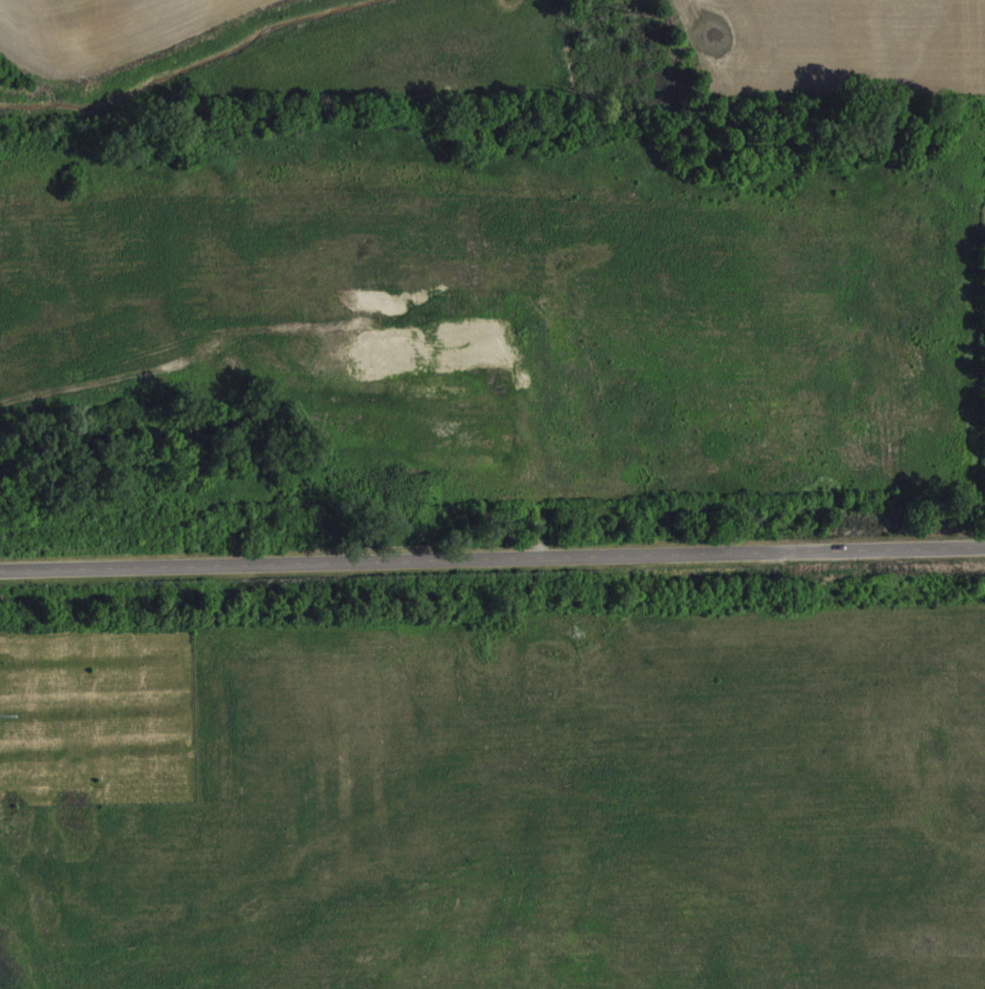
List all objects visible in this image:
road: (492, 559)

